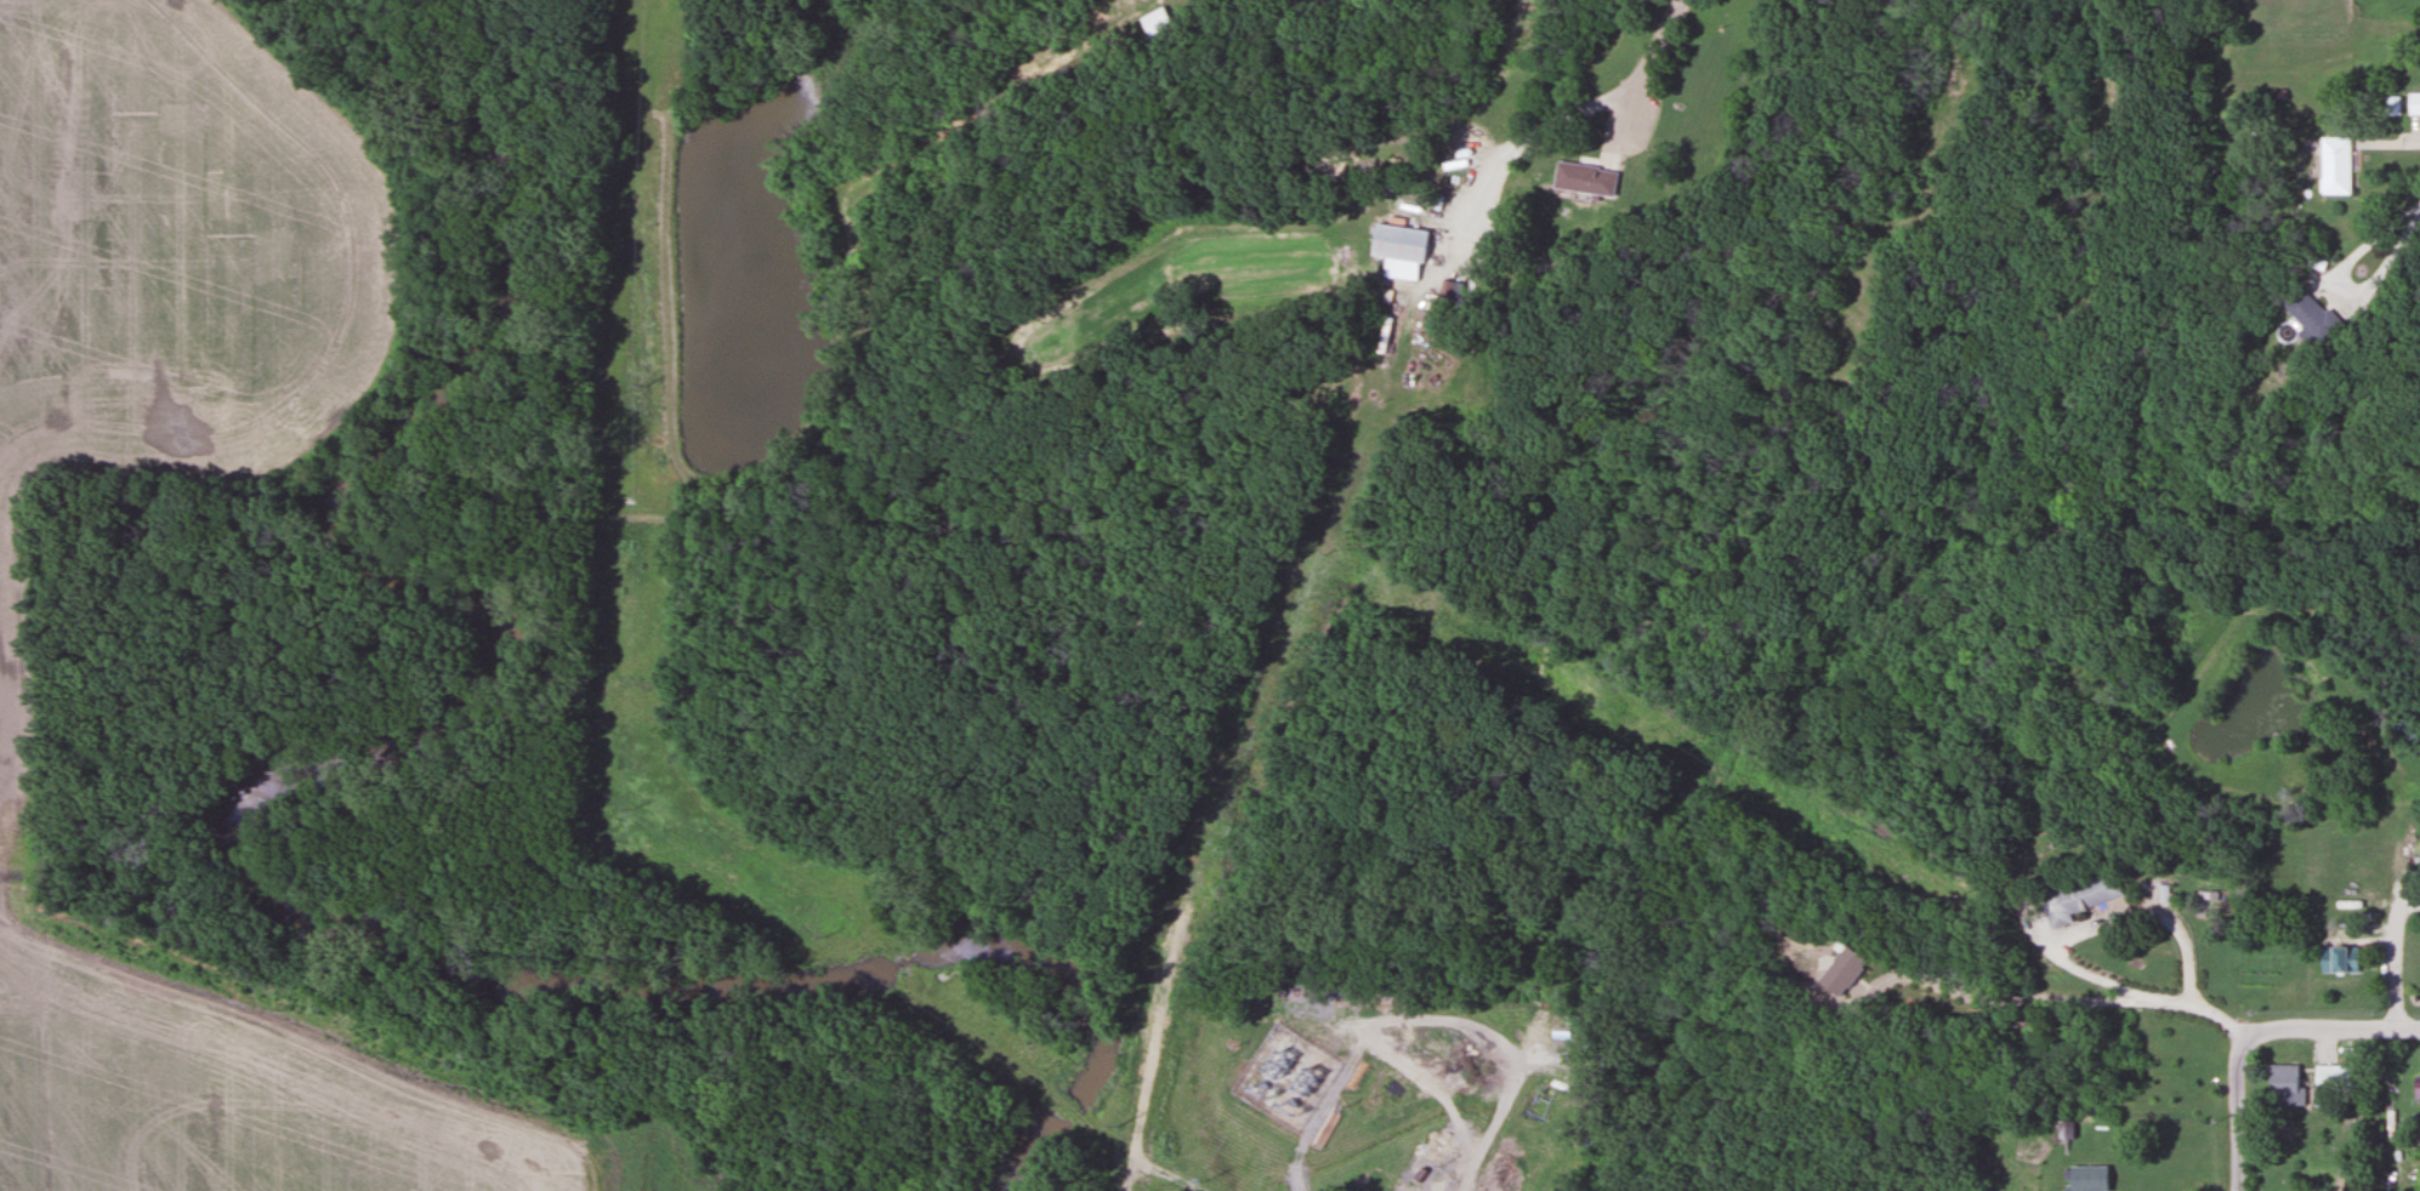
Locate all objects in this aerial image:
building: (1157, 19)
road: (1636, 82)
building: (2413, 103)
building: (2335, 165)
building: (1581, 178)
road: (2374, 243)
building: (1399, 250)
building: (2311, 314)
building: (1382, 334)
building: (2079, 897)
road: (2104, 916)
building: (2339, 961)
road: (2393, 961)
building: (1837, 971)
road: (2012, 999)
road: (2197, 1009)
road: (2331, 1028)
building: (2324, 1078)
building: (2283, 1085)
building: (2415, 1087)
road: (2234, 1112)
crop: (228, 1113)
building: (2083, 1178)

